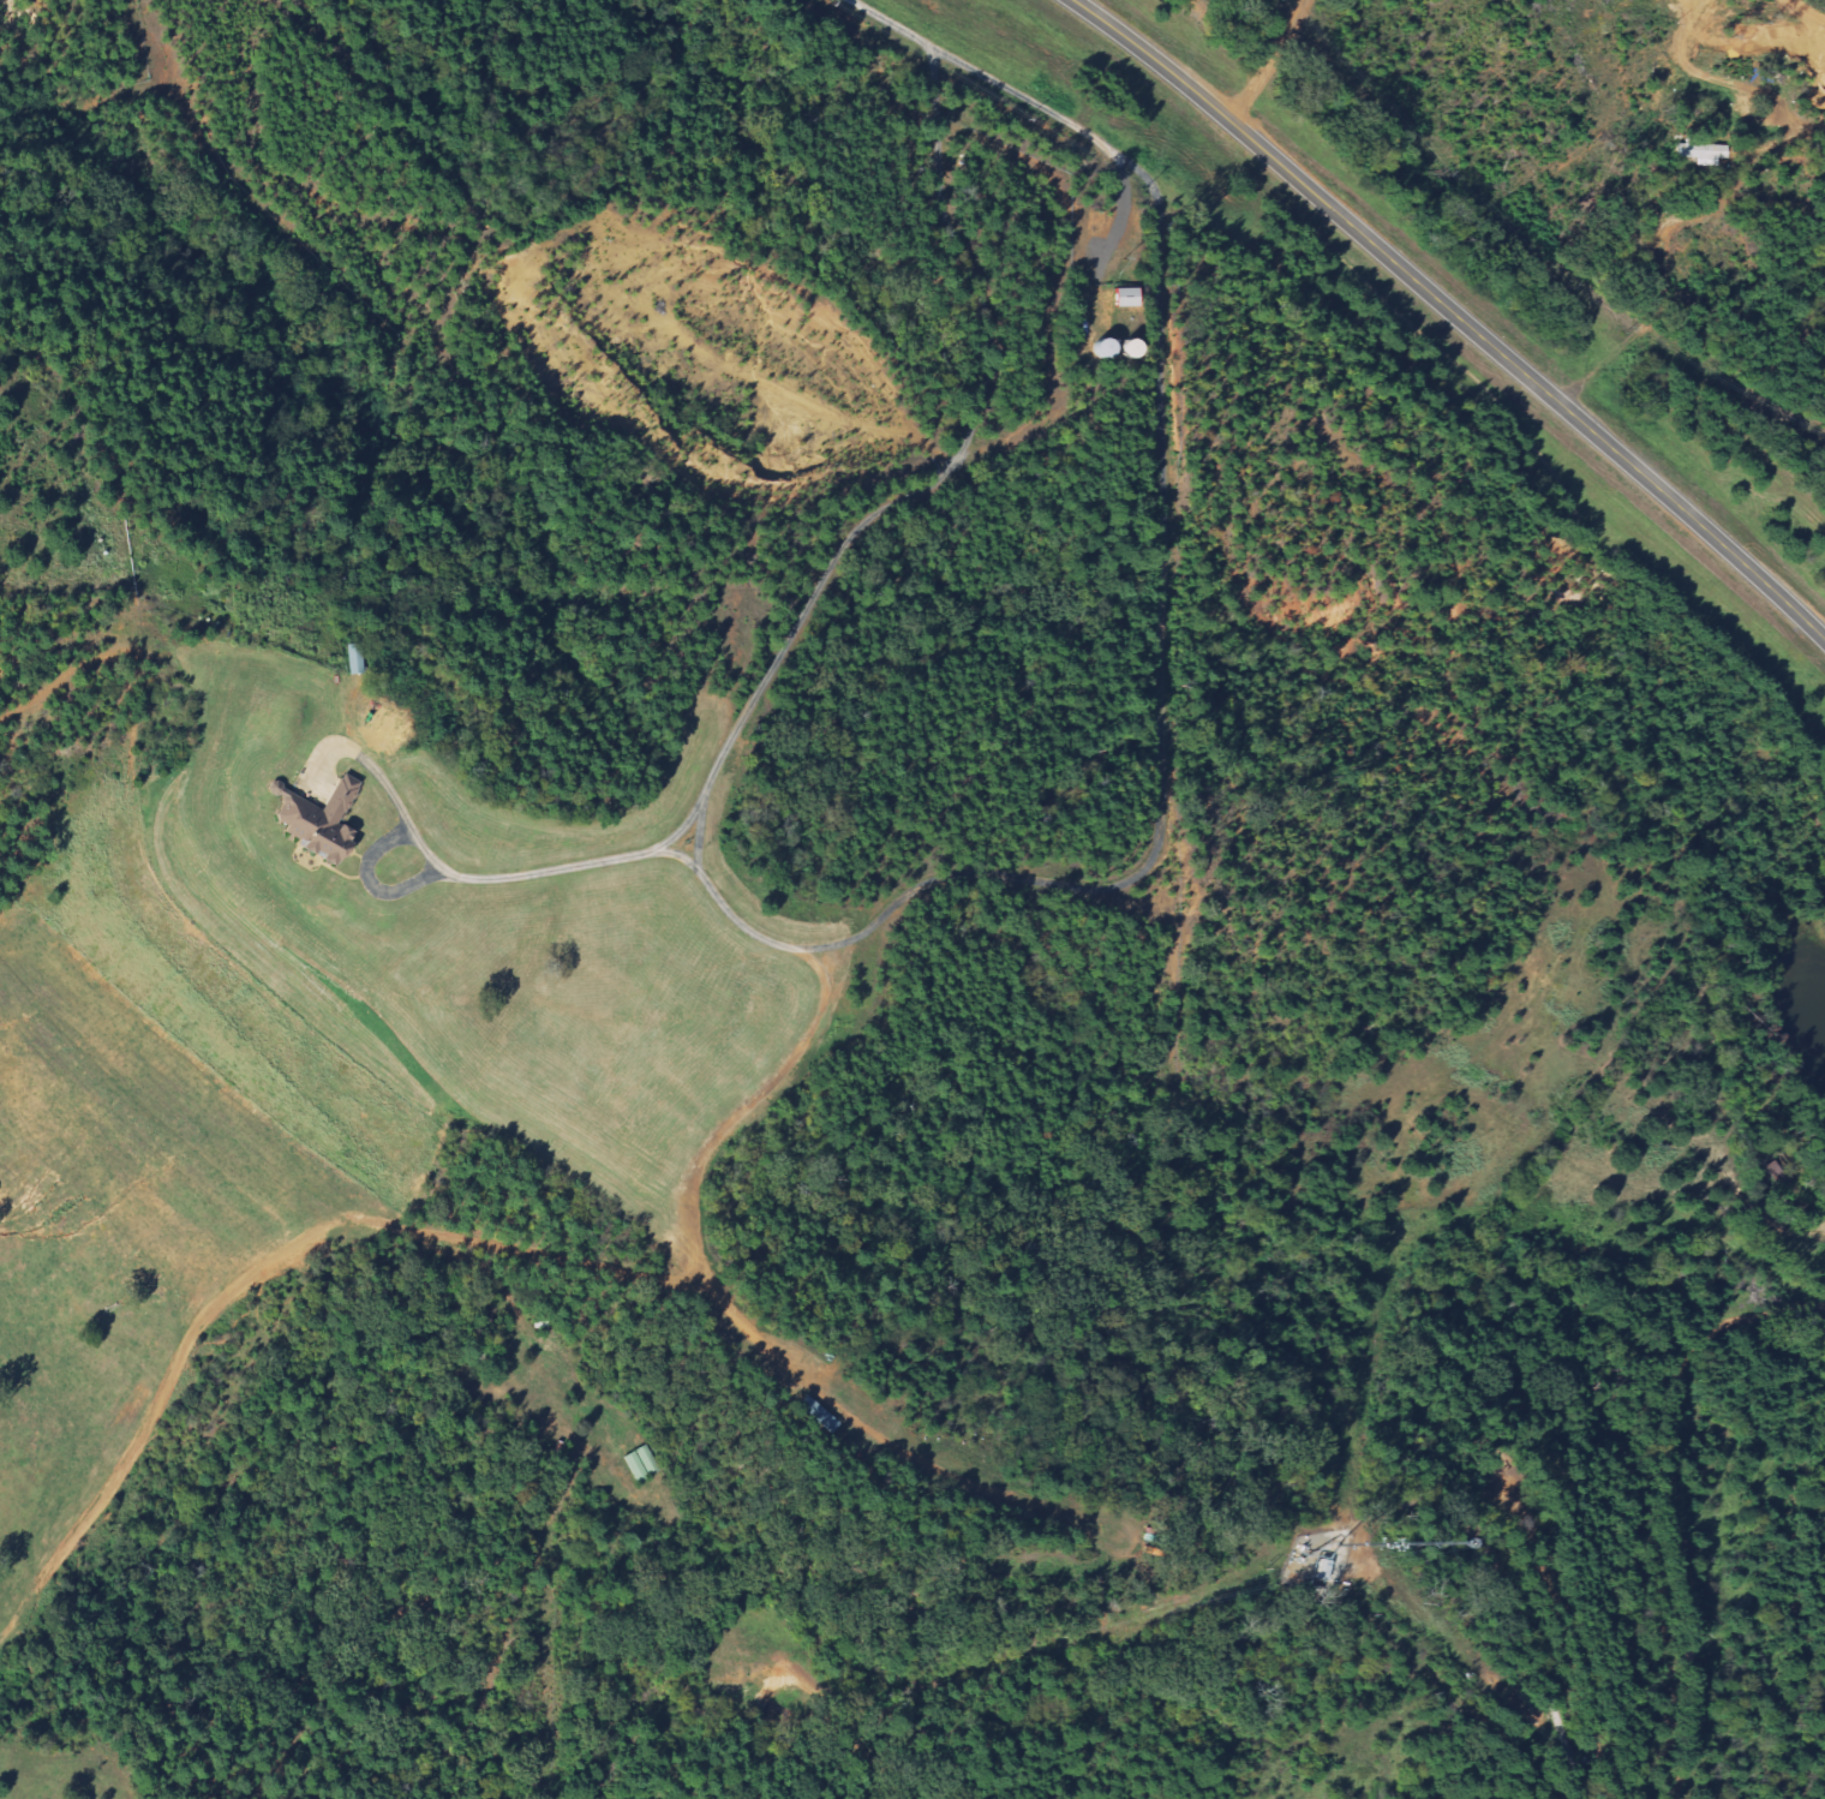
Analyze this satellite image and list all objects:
road: (890, 24)
road: (1265, 60)
road: (934, 83)
road: (1089, 133)
building: (1700, 151)
building: (1123, 297)
road: (1453, 313)
building: (1108, 347)
road: (824, 578)
building: (318, 821)
road: (699, 836)
road: (1153, 855)
building: (1311, 1567)
building: (1321, 1570)
building: (1297, 1578)

